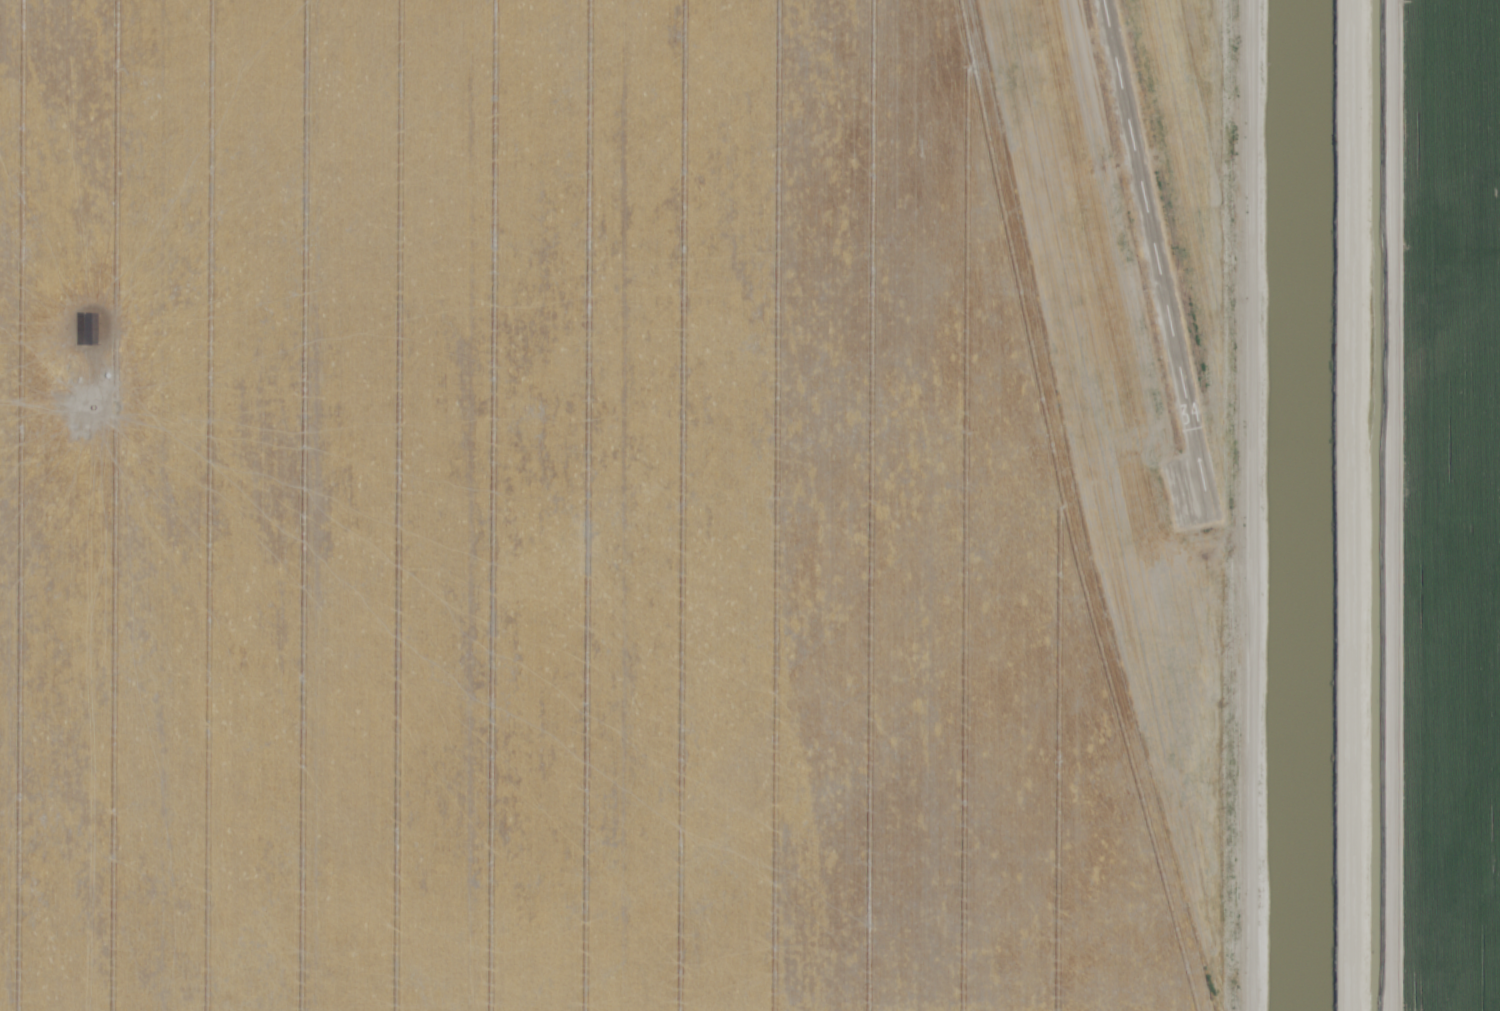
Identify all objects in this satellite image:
airport runway: (1152, 215)
road: (1329, 505)

